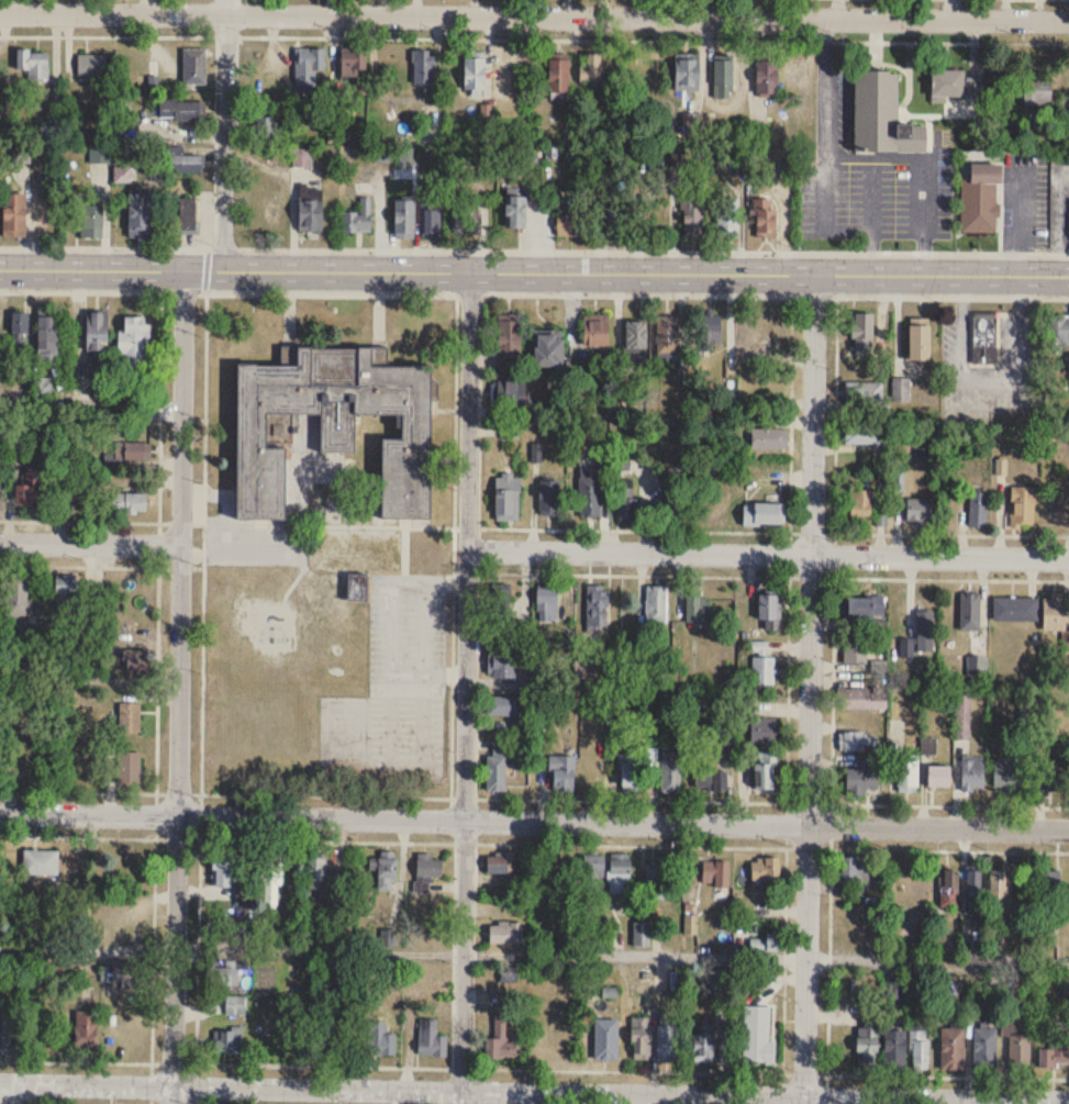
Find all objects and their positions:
road: (534, 15)
road: (118, 34)
road: (653, 37)
building: (353, 63)
building: (33, 65)
building: (91, 66)
building: (194, 67)
building: (307, 67)
building: (423, 68)
building: (591, 69)
building: (798, 73)
building: (474, 75)
building: (645, 76)
building: (687, 76)
building: (558, 77)
building: (767, 78)
building: (723, 80)
building: (955, 86)
building: (1036, 91)
building: (181, 112)
building: (882, 119)
building: (267, 130)
road: (224, 134)
building: (100, 156)
building: (382, 156)
building: (302, 158)
building: (183, 164)
road: (851, 166)
building: (981, 201)
building: (515, 214)
building: (13, 216)
building: (138, 216)
building: (310, 216)
building: (188, 218)
building: (358, 219)
building: (613, 219)
building: (692, 219)
building: (727, 219)
building: (467, 220)
building: (764, 220)
road: (871, 220)
building: (404, 221)
building: (91, 224)
building: (431, 224)
building: (572, 227)
road: (103, 245)
road: (534, 271)
building: (19, 323)
building: (710, 330)
building: (772, 330)
building: (96, 331)
building: (1059, 331)
building: (595, 332)
building: (862, 333)
building: (0, 335)
building: (636, 335)
building: (667, 335)
building: (986, 337)
building: (47, 339)
building: (133, 343)
building: (920, 343)
building: (509, 344)
building: (548, 349)
building: (43, 388)
building: (901, 389)
building: (508, 393)
building: (868, 394)
road: (90, 404)
road: (834, 413)
building: (248, 425)
building: (861, 432)
building: (769, 437)
building: (129, 451)
road: (158, 484)
road: (203, 484)
building: (30, 489)
building: (508, 495)
building: (590, 495)
building: (549, 497)
building: (126, 502)
building: (675, 502)
building: (862, 502)
building: (627, 504)
building: (1023, 506)
building: (917, 510)
building: (978, 510)
building: (1054, 510)
building: (764, 513)
road: (773, 529)
road: (89, 543)
road: (768, 553)
road: (677, 573)
building: (18, 593)
building: (65, 593)
building: (94, 594)
building: (547, 603)
building: (597, 604)
building: (657, 605)
building: (865, 606)
building: (698, 609)
building: (1015, 609)
building: (769, 610)
building: (970, 611)
building: (1054, 612)
building: (924, 631)
building: (907, 647)
building: (856, 649)
building: (125, 657)
building: (502, 661)
building: (977, 665)
building: (764, 670)
parking lot: (407, 677)
road: (178, 687)
road: (465, 688)
road: (810, 689)
road: (831, 691)
building: (859, 699)
road: (156, 701)
building: (505, 705)
building: (962, 716)
building: (129, 717)
building: (762, 731)
building: (857, 740)
building: (495, 770)
building: (764, 770)
building: (129, 771)
building: (561, 772)
building: (628, 772)
building: (671, 772)
building: (972, 772)
building: (1006, 772)
building: (907, 773)
building: (938, 776)
building: (1027, 778)
building: (1056, 778)
building: (711, 780)
building: (861, 781)
road: (77, 790)
road: (358, 794)
road: (534, 819)
road: (392, 839)
road: (927, 848)
building: (40, 862)
building: (500, 863)
building: (428, 867)
building: (619, 868)
building: (765, 868)
building: (853, 868)
building: (225, 870)
building: (387, 870)
building: (315, 873)
building: (715, 873)
building: (593, 874)
building: (270, 879)
building: (654, 881)
building: (949, 888)
building: (1049, 888)
building: (973, 891)
building: (1000, 891)
building: (690, 924)
road: (153, 926)
building: (230, 926)
building: (505, 933)
building: (642, 935)
building: (388, 936)
road: (783, 936)
building: (762, 940)
road: (197, 947)
road: (402, 952)
road: (828, 952)
road: (937, 960)
building: (124, 974)
building: (225, 974)
building: (235, 1006)
building: (86, 1031)
building: (12, 1033)
building: (502, 1035)
building: (641, 1038)
building: (605, 1039)
building: (380, 1040)
building: (431, 1040)
building: (313, 1041)
building: (227, 1042)
building: (867, 1042)
building: (759, 1044)
building: (703, 1045)
building: (894, 1049)
building: (920, 1049)
building: (953, 1049)
building: (984, 1049)
building: (1018, 1053)
building: (1055, 1056)
road: (925, 1074)
road: (782, 1088)
road: (534, 1090)

